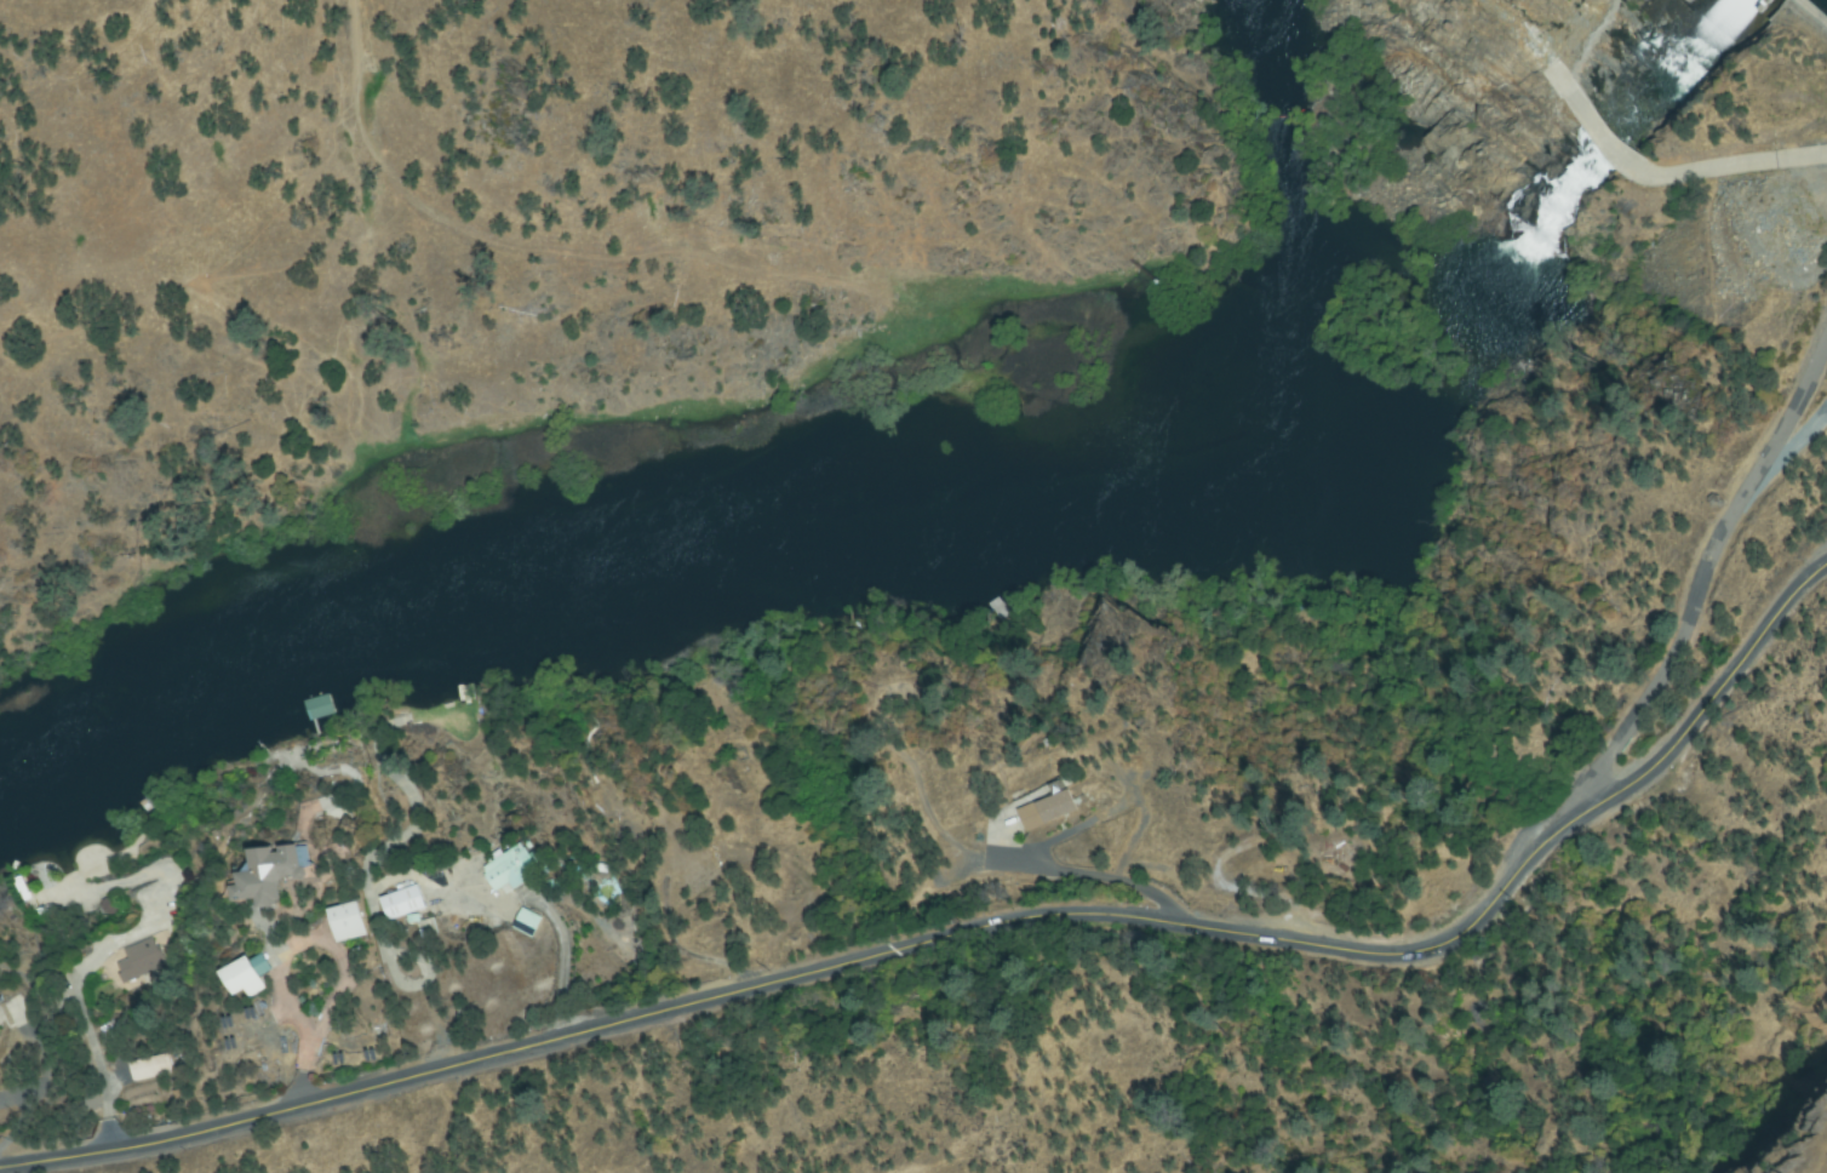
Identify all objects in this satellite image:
road: (1814, 10)
dam: (1803, 19)
road: (1518, 45)
road: (1594, 131)
road: (1725, 172)
road: (1823, 571)
road: (1708, 600)
building: (468, 697)
building: (320, 715)
building: (1044, 809)
building: (1050, 825)
building: (1361, 866)
building: (512, 869)
building: (457, 870)
building: (1336, 871)
road: (1104, 879)
building: (265, 883)
building: (27, 894)
building: (107, 905)
building: (397, 916)
road: (1035, 921)
building: (527, 923)
building: (342, 934)
building: (141, 962)
building: (134, 979)
building: (239, 988)
building: (154, 1069)
building: (145, 1082)

